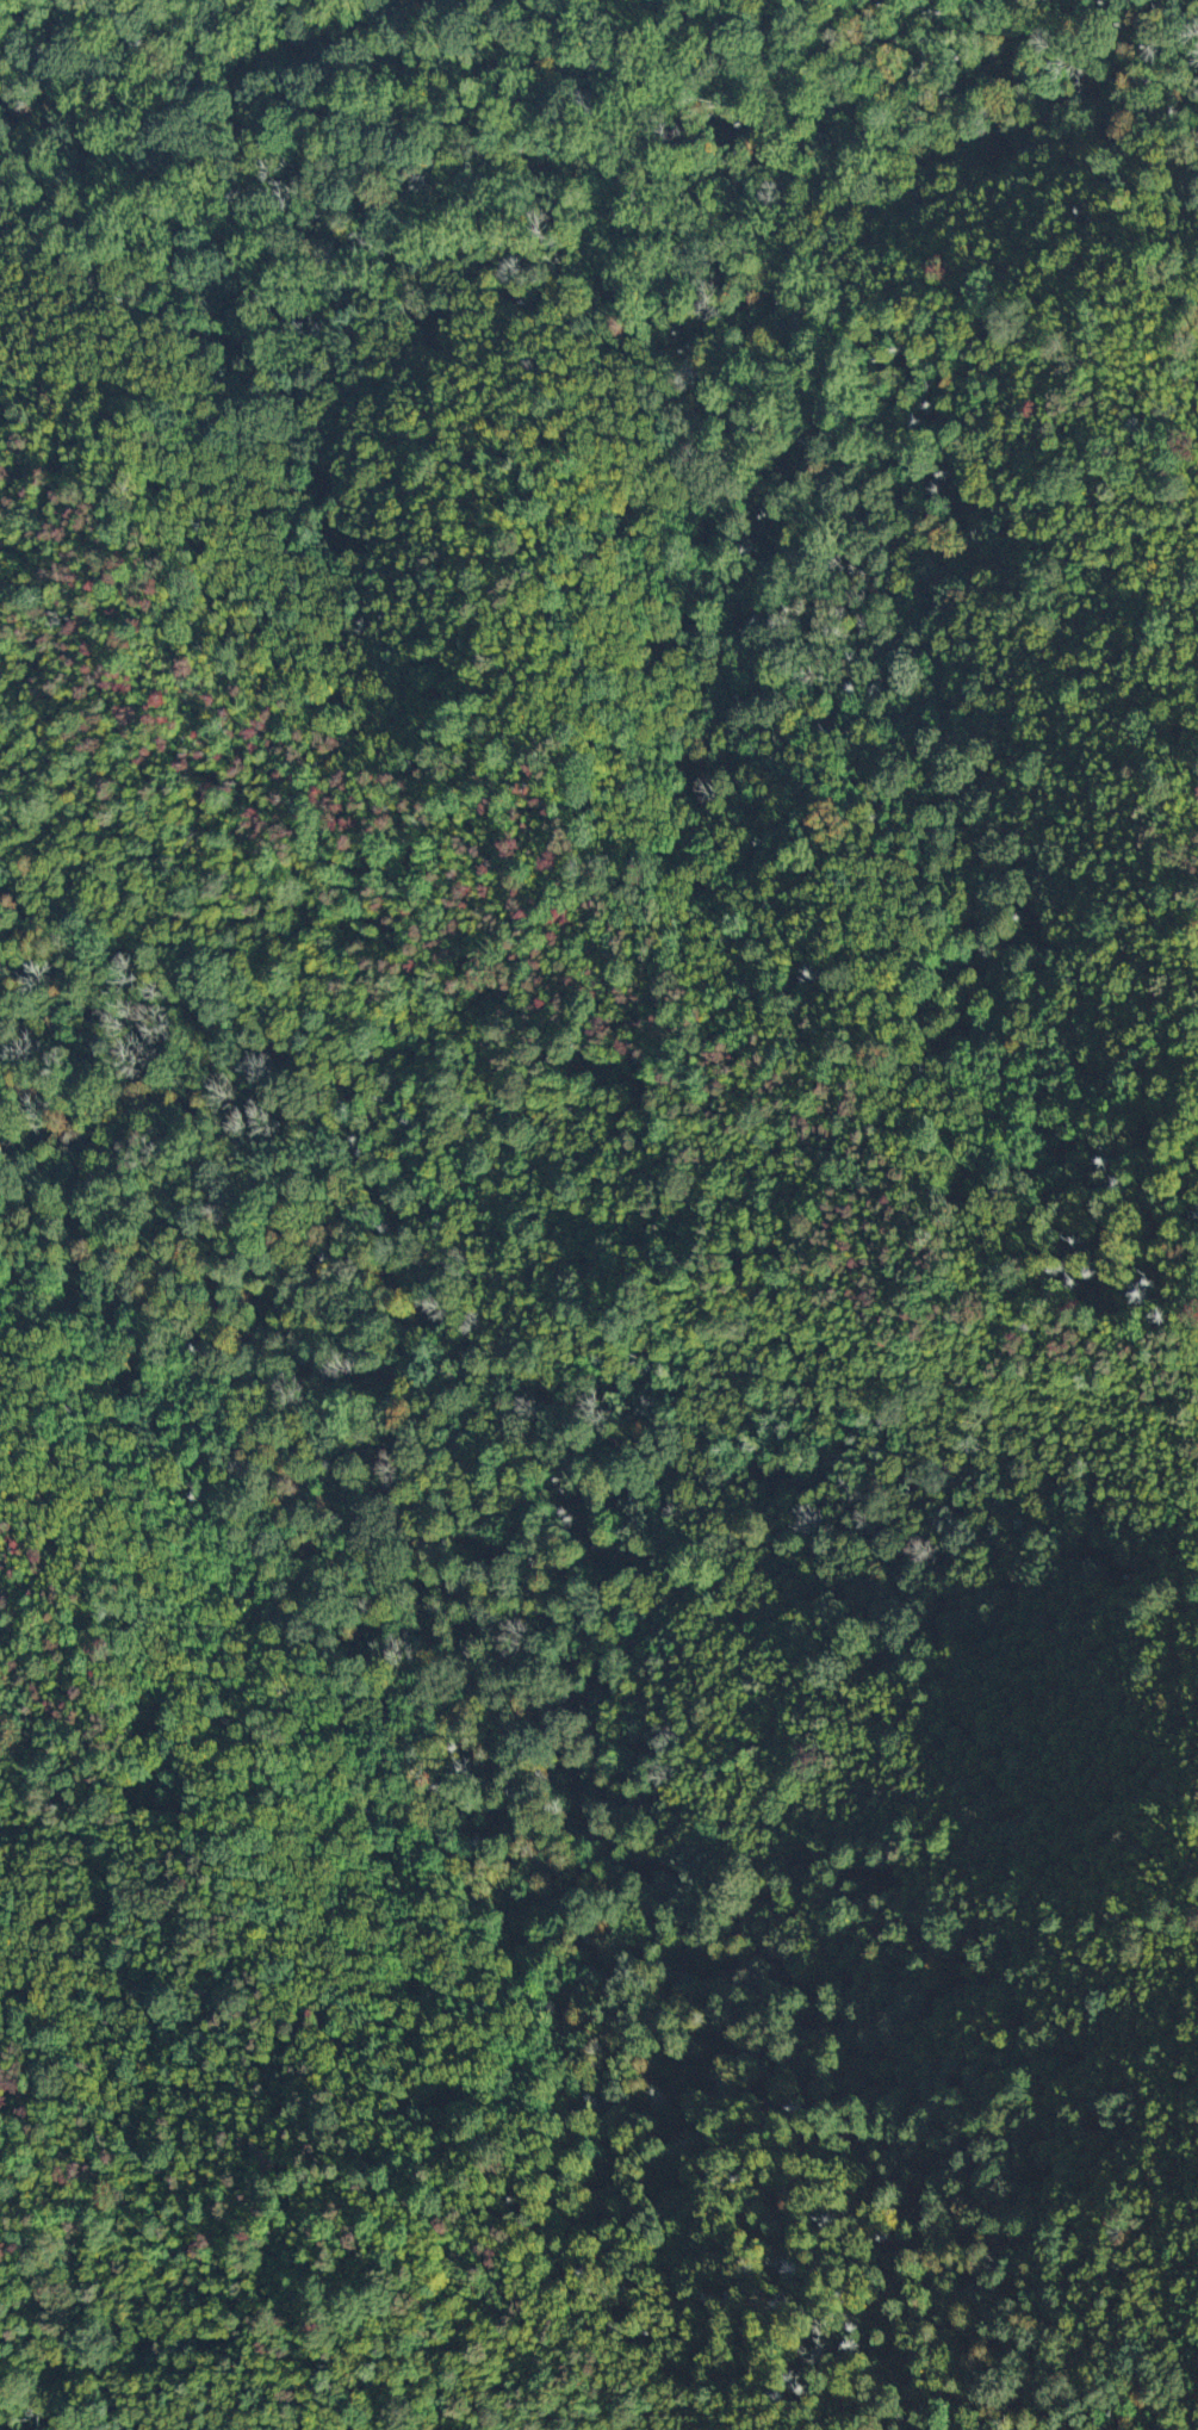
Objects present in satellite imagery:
road: (991, 63)

